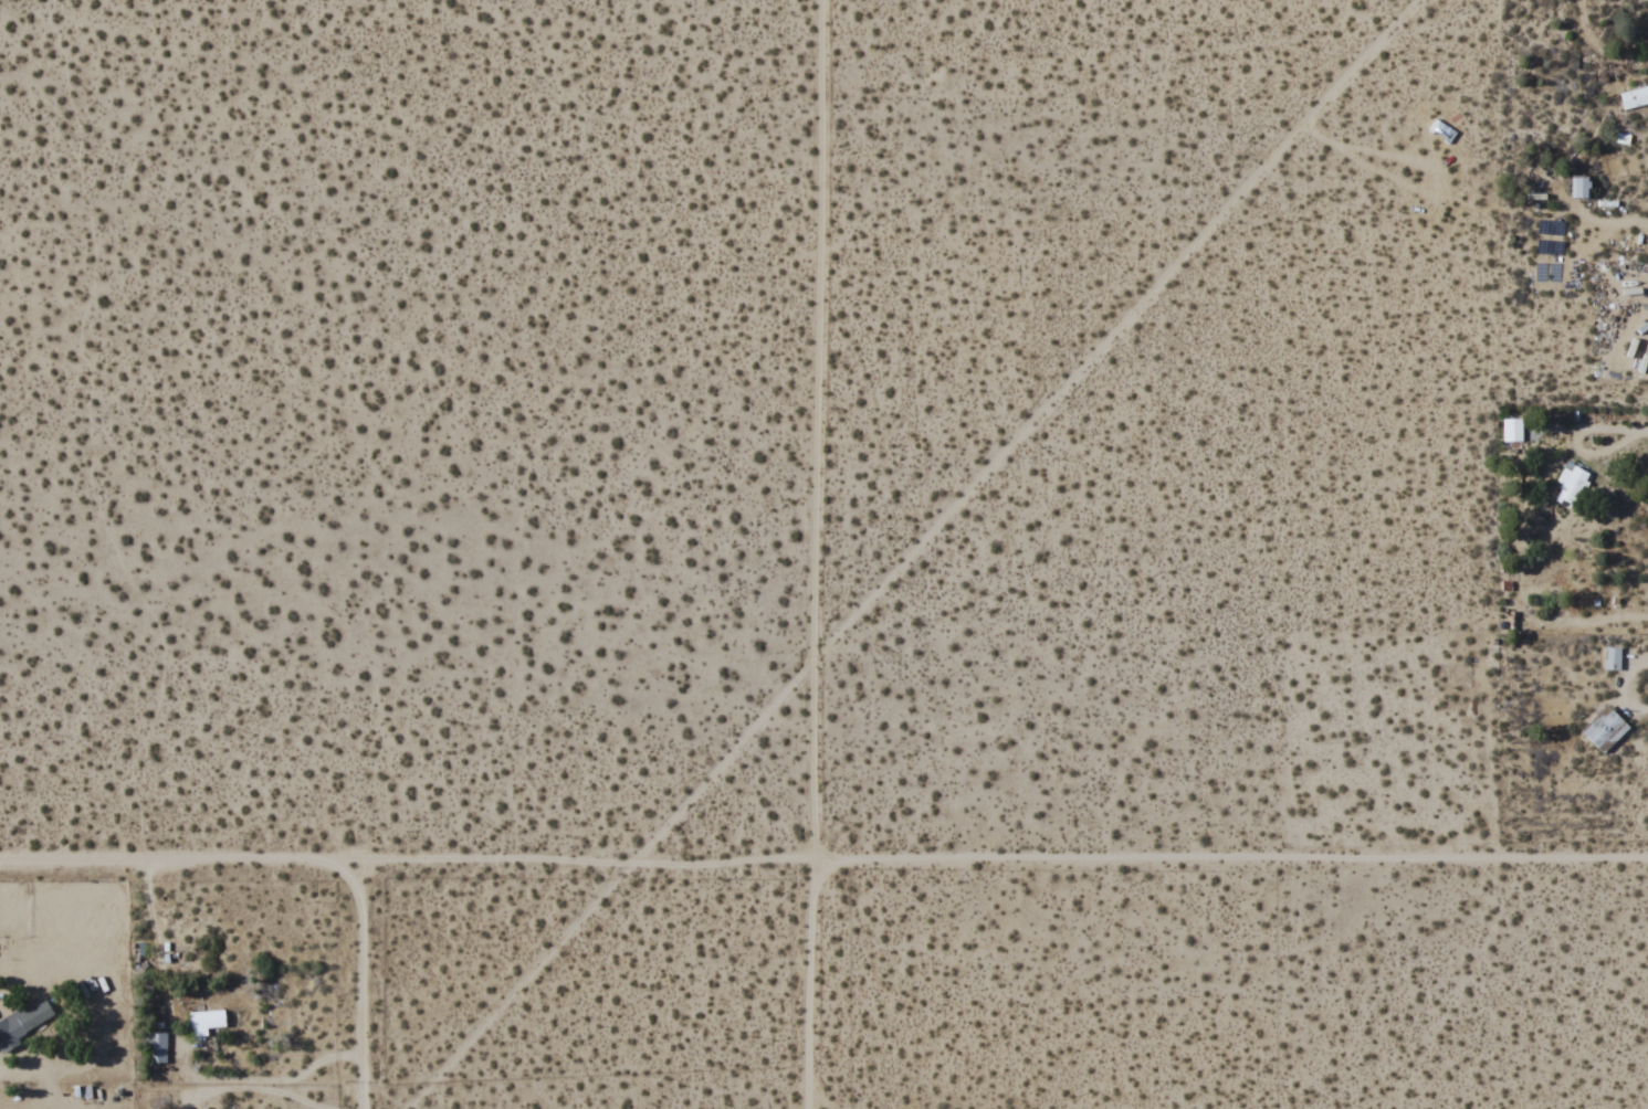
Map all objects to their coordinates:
building: (1634, 97)
building: (1581, 188)
building: (1550, 226)
building: (1511, 430)
building: (1568, 487)
road: (815, 554)
building: (1610, 657)
building: (1604, 728)
road: (823, 864)
road: (363, 987)
building: (204, 1022)
building: (21, 1023)
building: (155, 1047)

